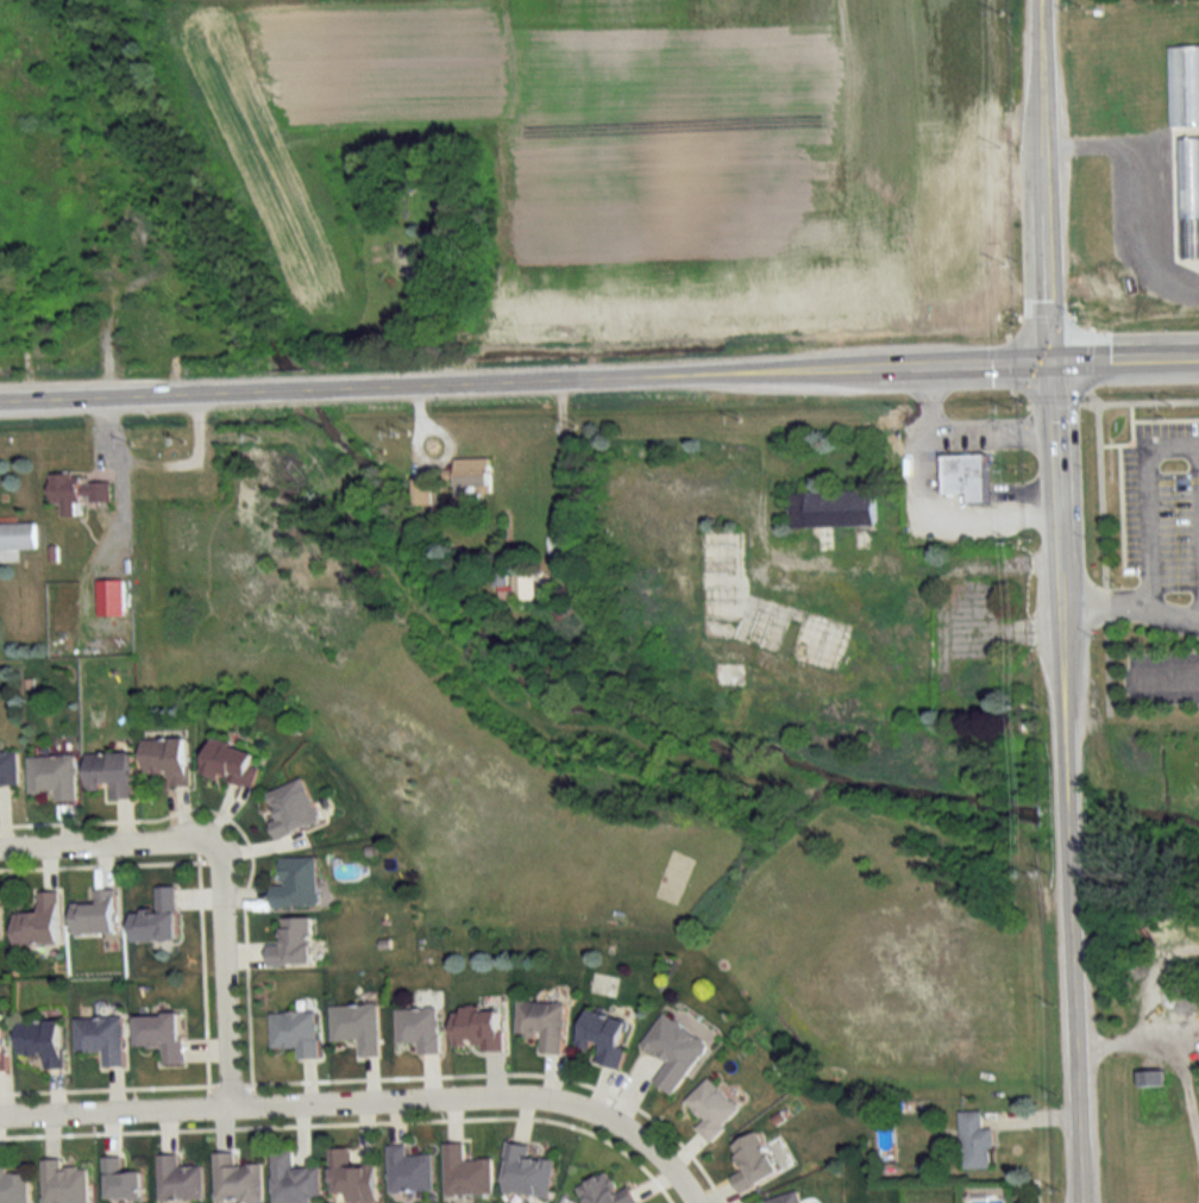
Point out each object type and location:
road: (1038, 75)
building: (1182, 87)
crop: (626, 144)
road: (1151, 181)
building: (1188, 198)
building: (440, 252)
road: (1046, 256)
road: (1124, 359)
traffic signals: (1050, 362)
road: (978, 364)
road: (452, 382)
road: (1113, 399)
road: (990, 430)
building: (472, 476)
building: (967, 476)
building: (420, 491)
building: (77, 493)
road: (1148, 495)
road: (927, 506)
building: (831, 508)
building: (17, 537)
road: (1105, 546)
building: (498, 577)
road: (1060, 582)
building: (523, 587)
building: (109, 597)
road: (1130, 601)
building: (918, 660)
road: (1168, 663)
building: (978, 682)
building: (165, 758)
building: (230, 763)
building: (7, 767)
building: (108, 772)
building: (51, 776)
building: (291, 808)
road: (241, 835)
road: (125, 841)
road: (100, 864)
building: (295, 884)
building: (93, 914)
building: (156, 917)
building: (37, 922)
building: (291, 944)
road: (199, 973)
road: (224, 992)
road: (1075, 1002)
building: (542, 1023)
building: (356, 1027)
building: (418, 1029)
building: (477, 1029)
building: (294, 1033)
building: (159, 1035)
building: (99, 1038)
building: (602, 1039)
building: (39, 1041)
road: (1180, 1044)
building: (0, 1050)
building: (673, 1052)
road: (503, 1072)
road: (225, 1083)
road: (106, 1088)
building: (1151, 1095)
road: (366, 1099)
building: (711, 1109)
road: (350, 1122)
building: (975, 1142)
building: (752, 1161)
building: (408, 1170)
building: (525, 1171)
building: (465, 1172)
building: (350, 1178)
building: (119, 1180)
building: (177, 1180)
building: (236, 1180)
building: (293, 1180)
building: (62, 1183)
building: (12, 1186)
road: (1038, 1188)
building: (604, 1191)
building: (785, 1198)

